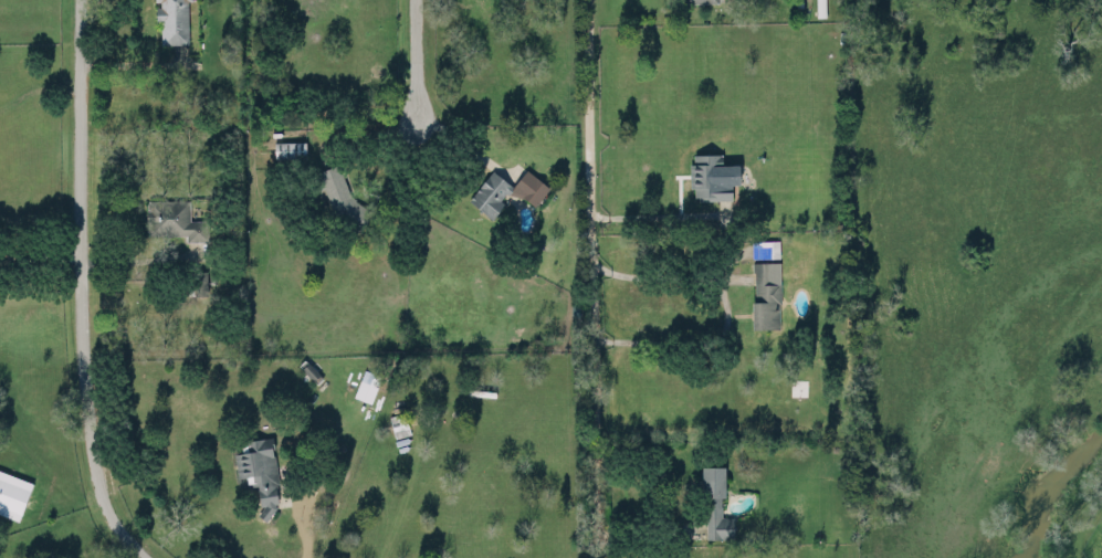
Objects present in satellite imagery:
building: (700, 0)
building: (172, 21)
road: (414, 62)
building: (288, 148)
building: (711, 176)
building: (503, 191)
road: (660, 214)
building: (174, 219)
building: (766, 246)
road: (39, 252)
road: (138, 256)
road: (599, 278)
building: (199, 283)
road: (80, 287)
building: (766, 293)
road: (724, 307)
building: (398, 423)
building: (260, 472)
building: (12, 493)
building: (714, 503)
road: (304, 529)

